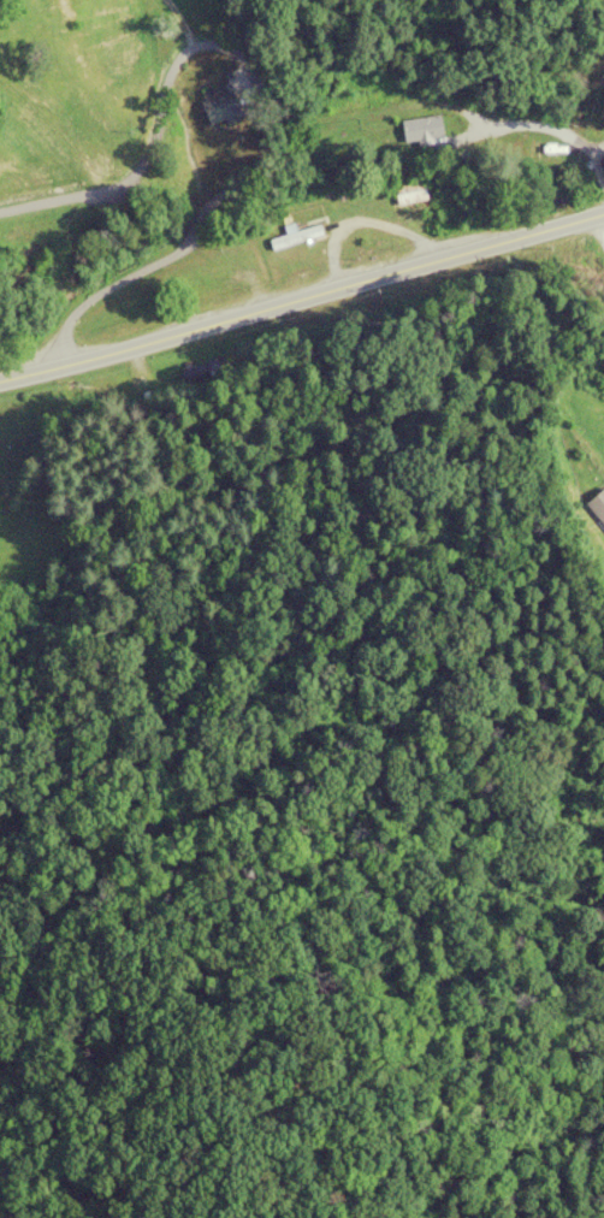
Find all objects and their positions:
road: (484, 108)
building: (326, 123)
building: (211, 128)
building: (420, 132)
building: (541, 154)
road: (603, 154)
building: (201, 168)
building: (408, 193)
road: (600, 221)
road: (562, 223)
building: (294, 237)
building: (188, 274)
road: (260, 308)
building: (597, 505)

